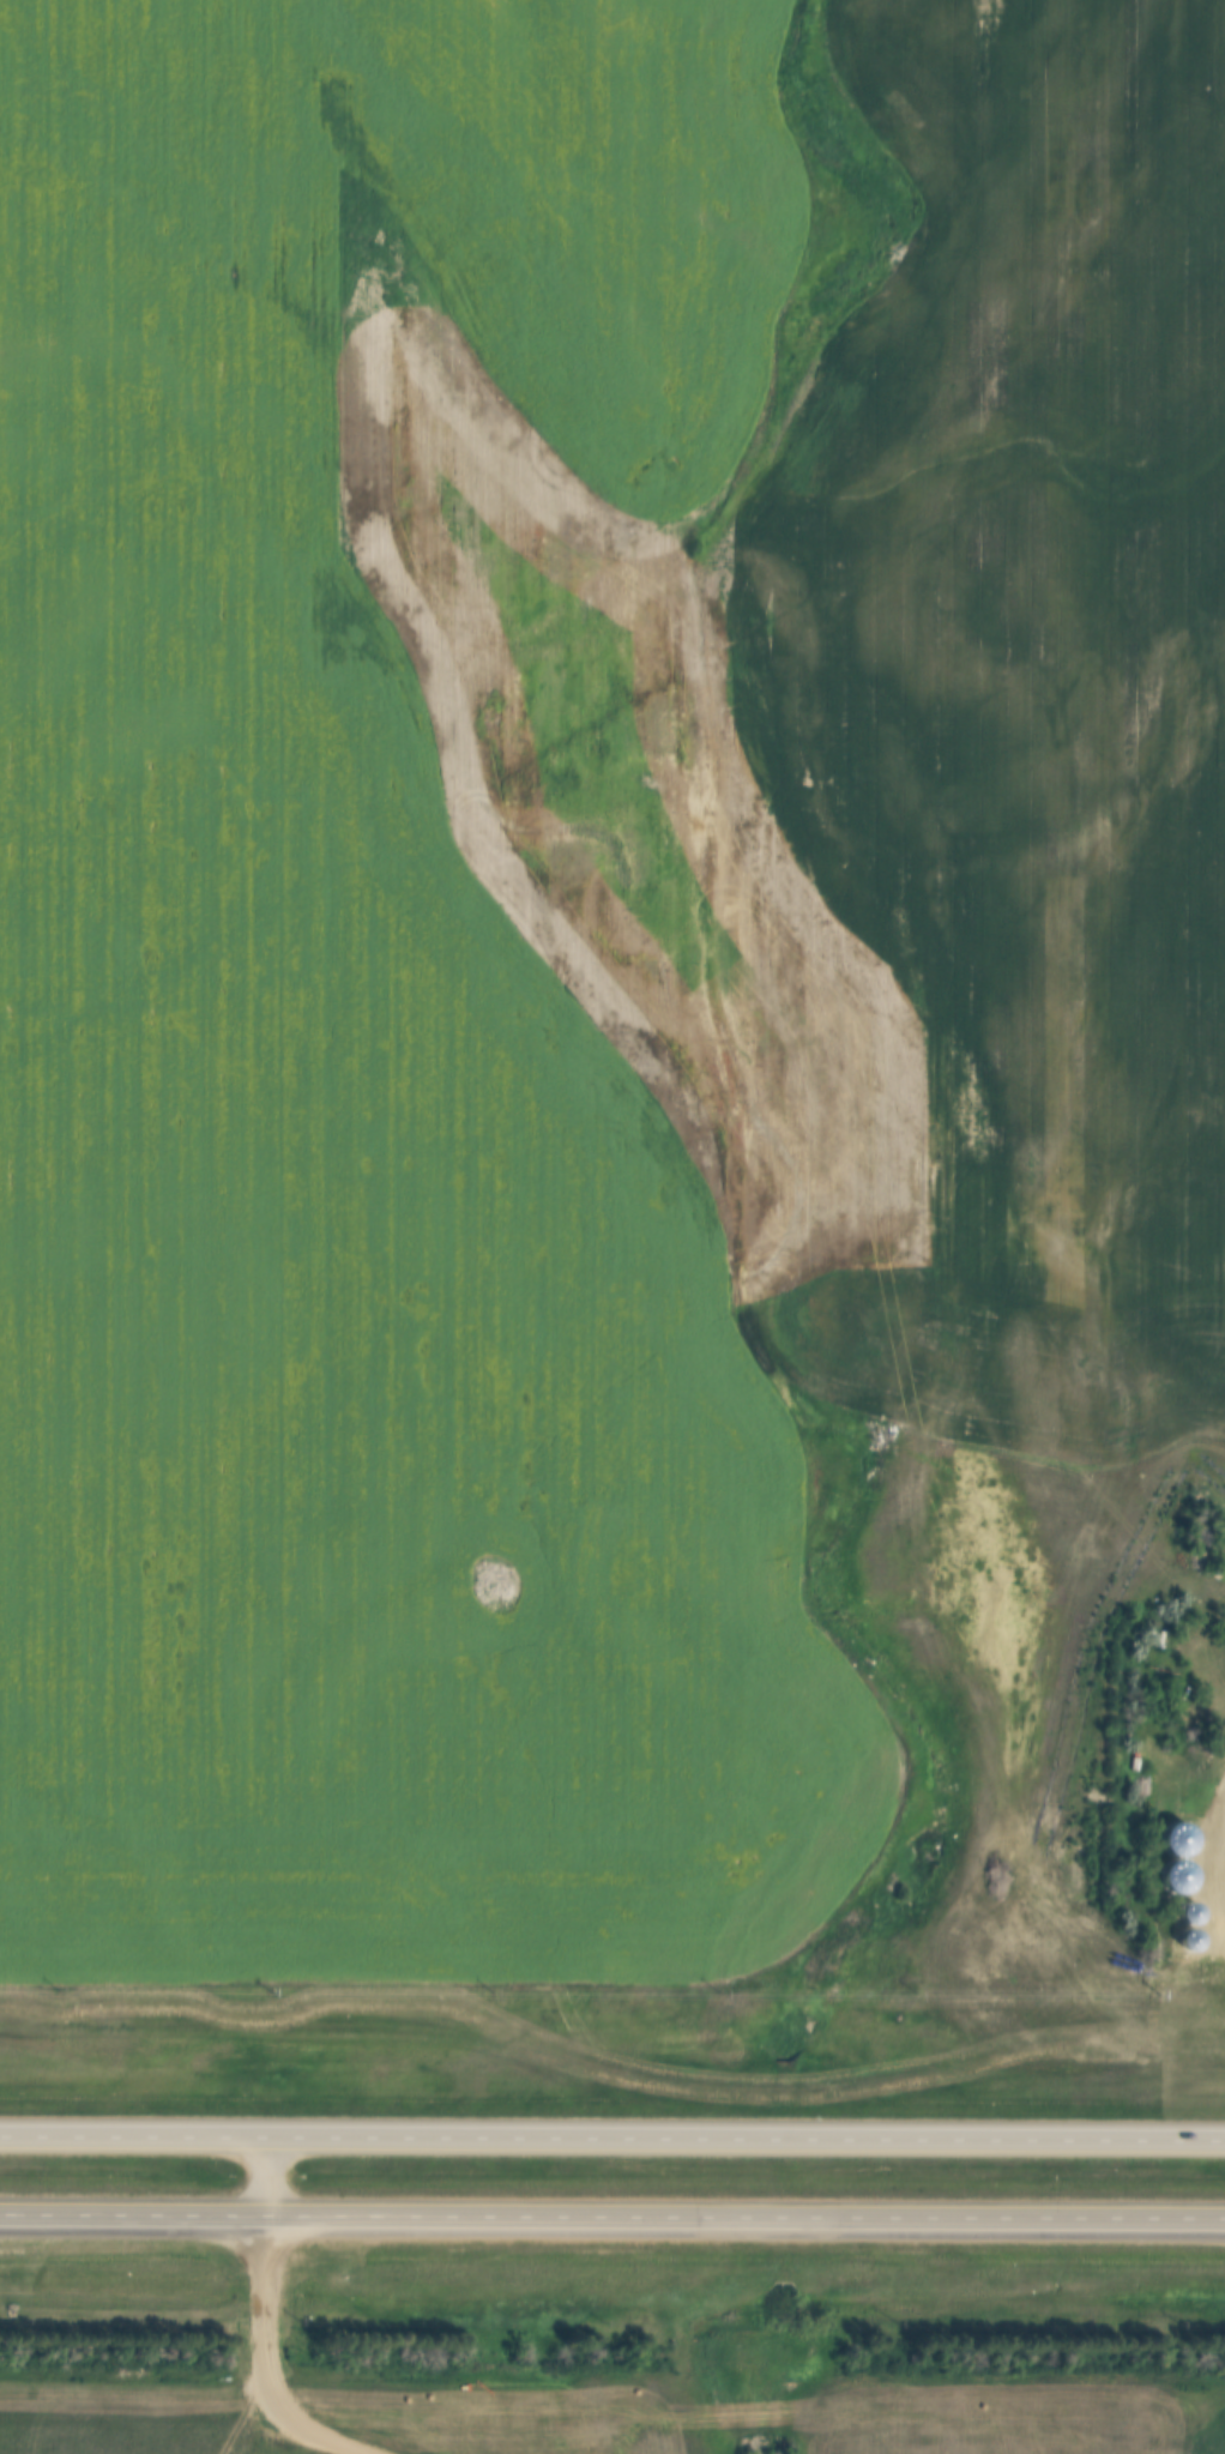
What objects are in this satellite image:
road: (611, 2140)
road: (611, 2215)

